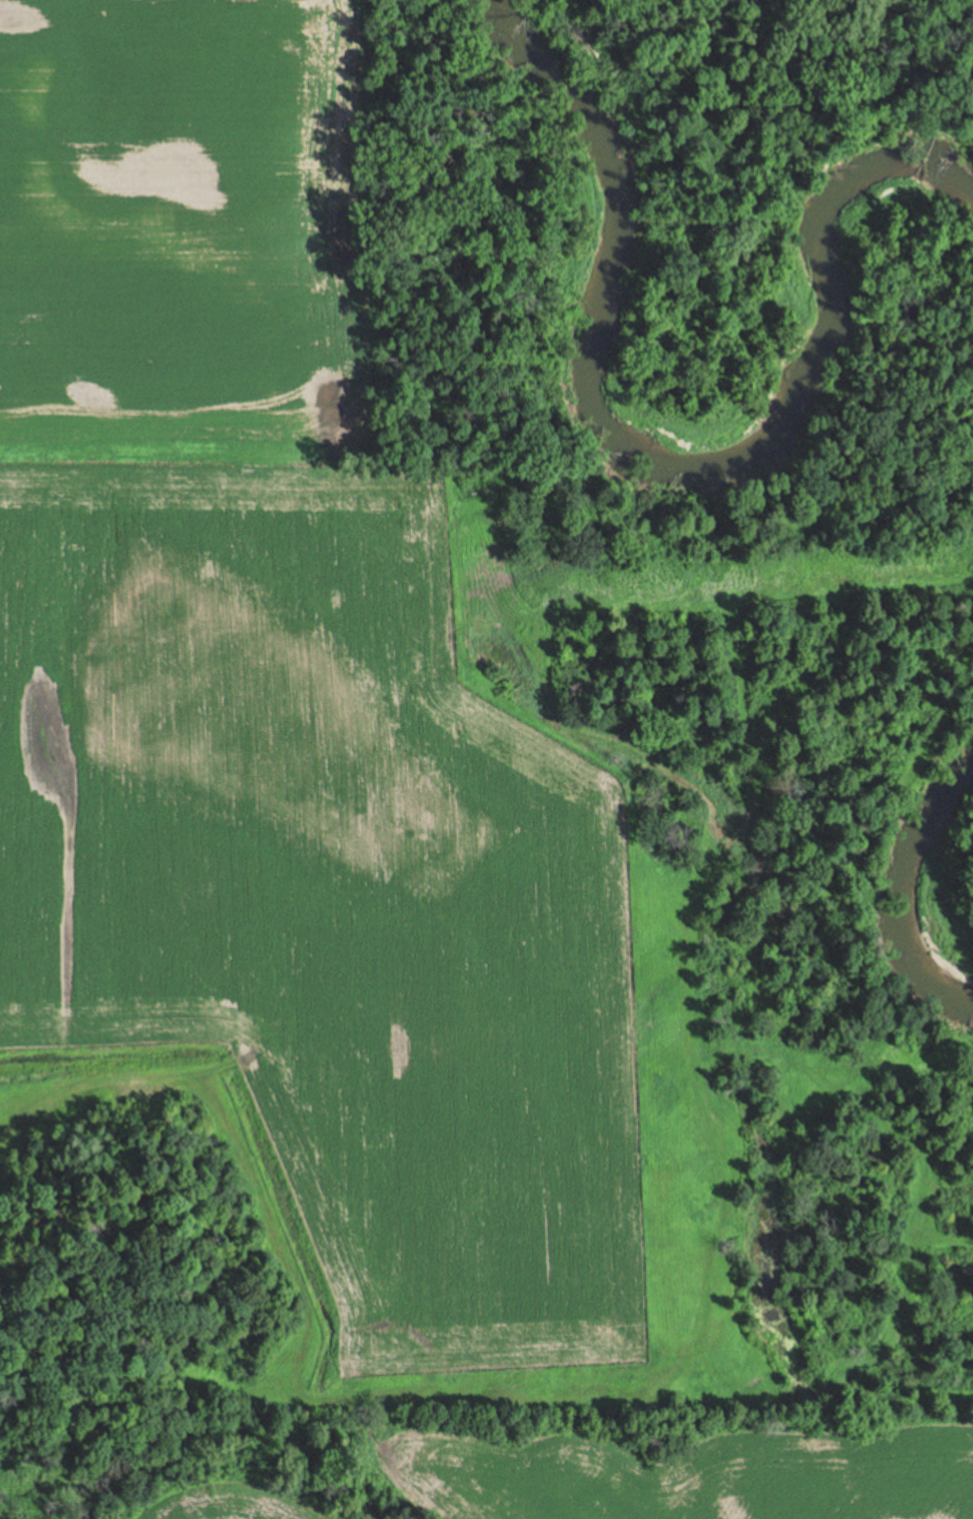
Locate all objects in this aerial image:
river: (919, 171)
river: (612, 430)
river: (910, 881)

